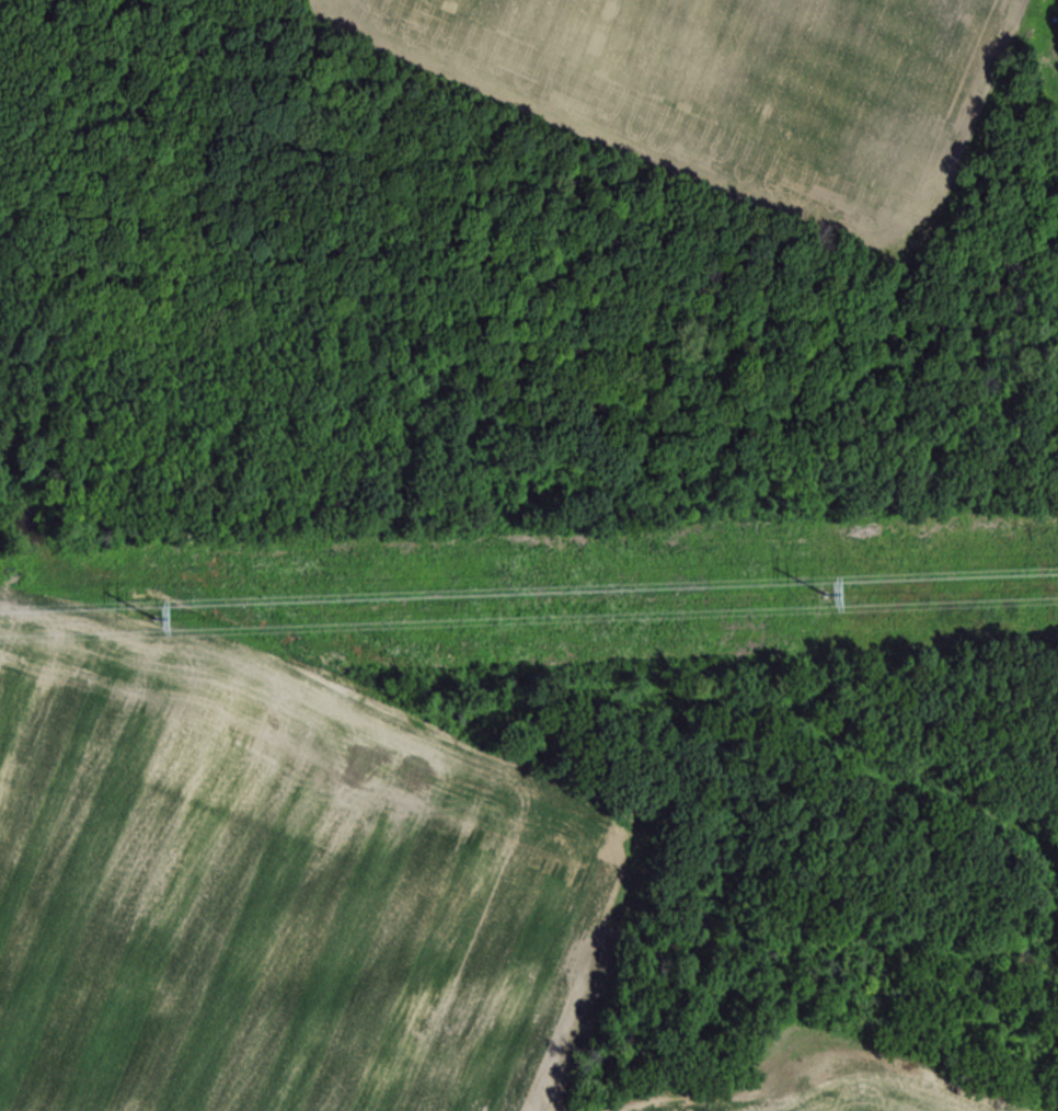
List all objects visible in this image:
crop: (771, 78)
power tower: (820, 599)
power tower: (150, 625)
crop: (265, 918)
crop: (893, 1080)

